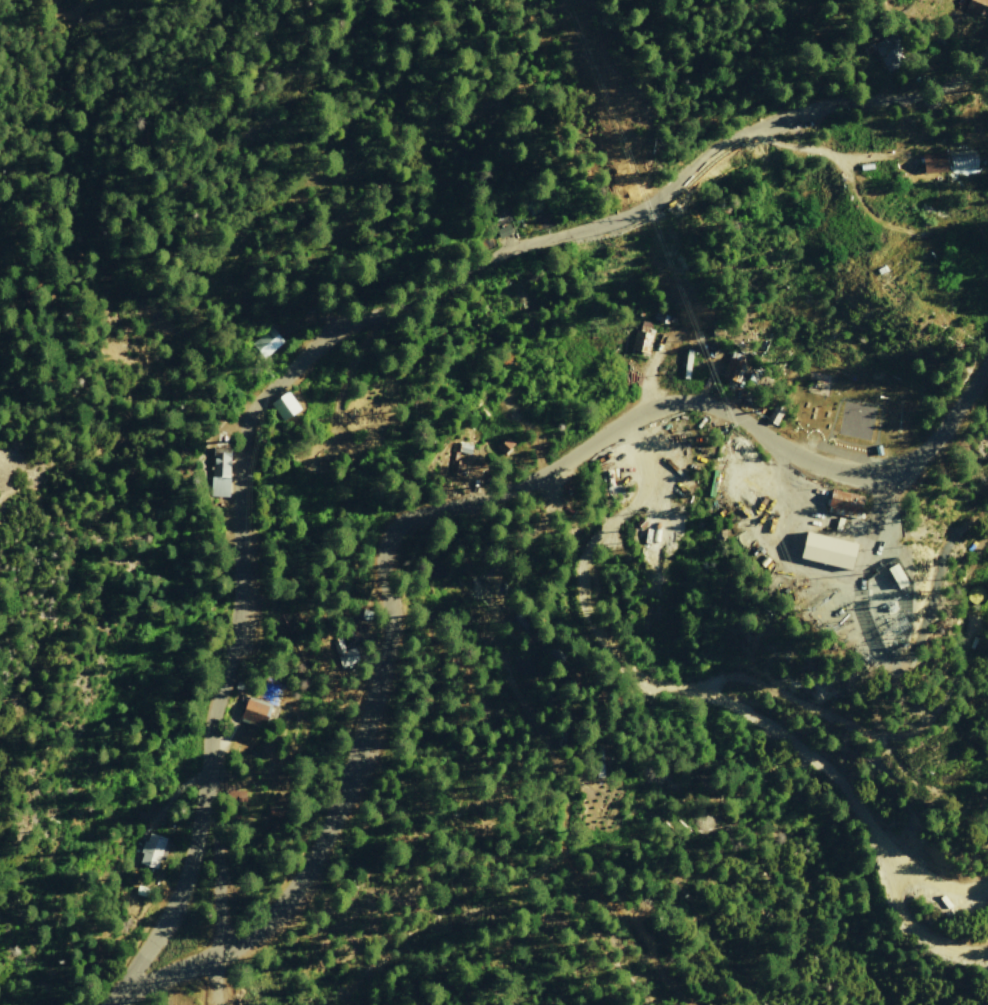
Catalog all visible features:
building: (889, 52)
road: (805, 149)
building: (934, 162)
road: (862, 212)
building: (504, 230)
road: (336, 336)
building: (642, 337)
building: (266, 342)
building: (733, 366)
building: (285, 404)
building: (504, 444)
building: (220, 470)
road: (497, 497)
building: (845, 503)
building: (829, 549)
building: (898, 574)
road: (717, 700)
building: (255, 712)
building: (152, 850)
road: (938, 889)
road: (220, 918)
road: (173, 975)

